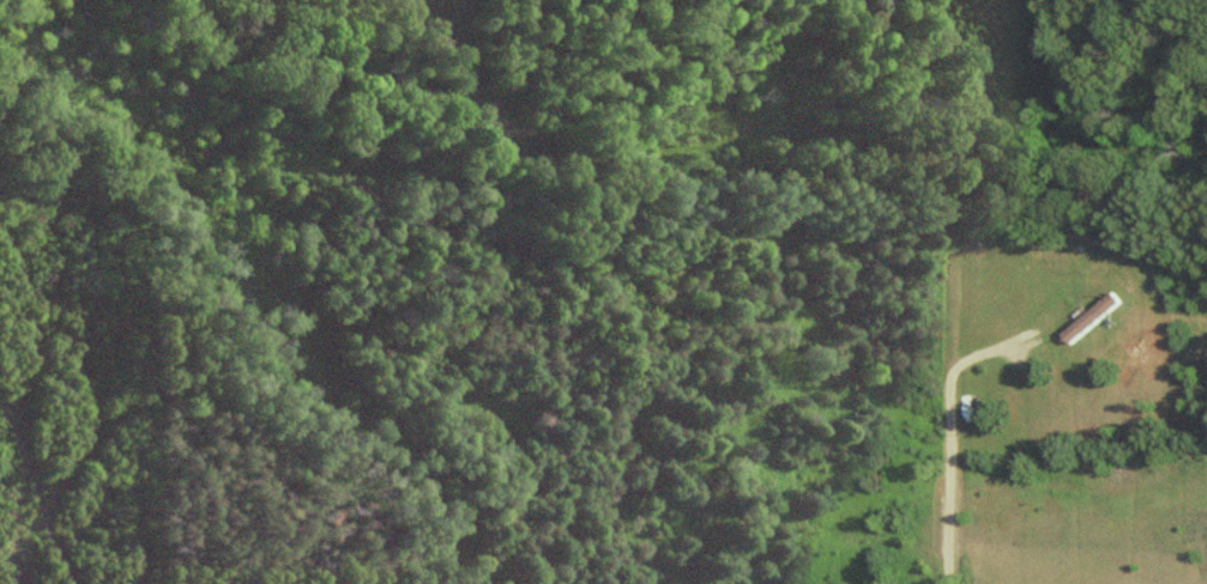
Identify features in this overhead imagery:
building: (1096, 318)
road: (955, 461)

